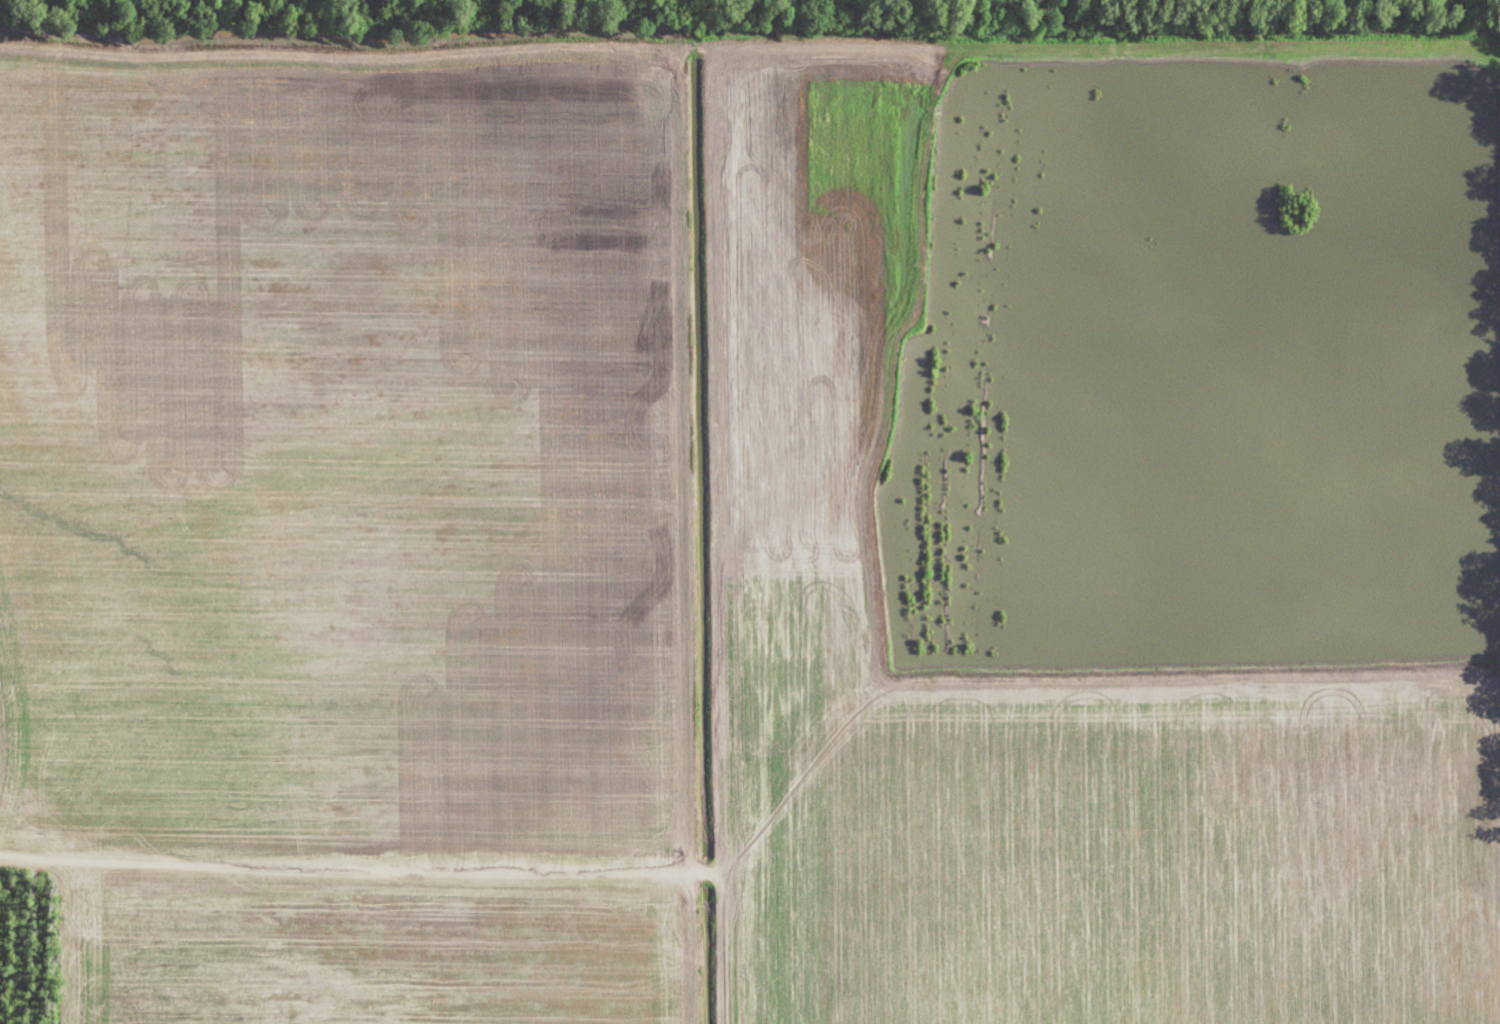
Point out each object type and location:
park: (1496, 12)

